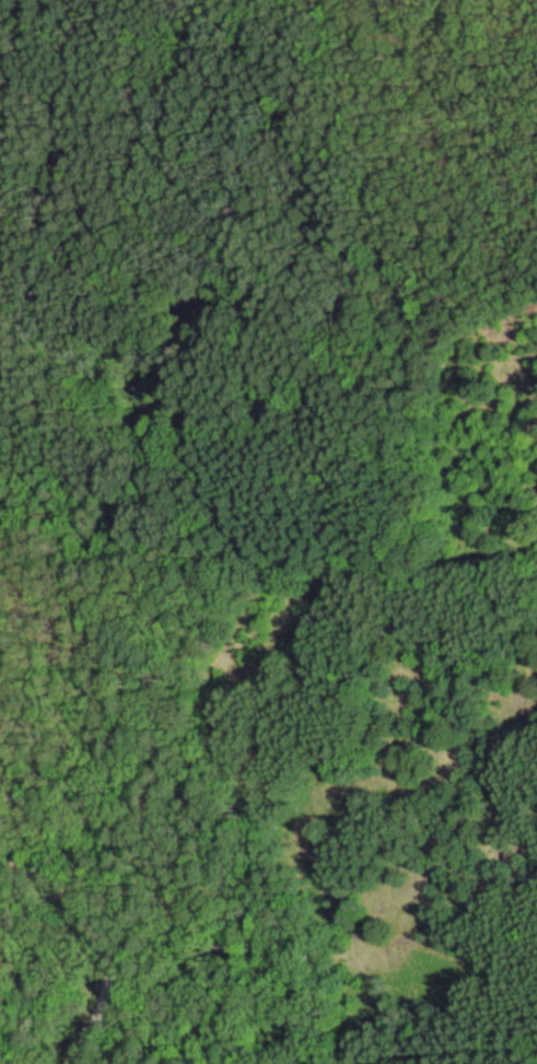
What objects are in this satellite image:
road: (170, 828)
road: (97, 937)
road: (447, 1054)

